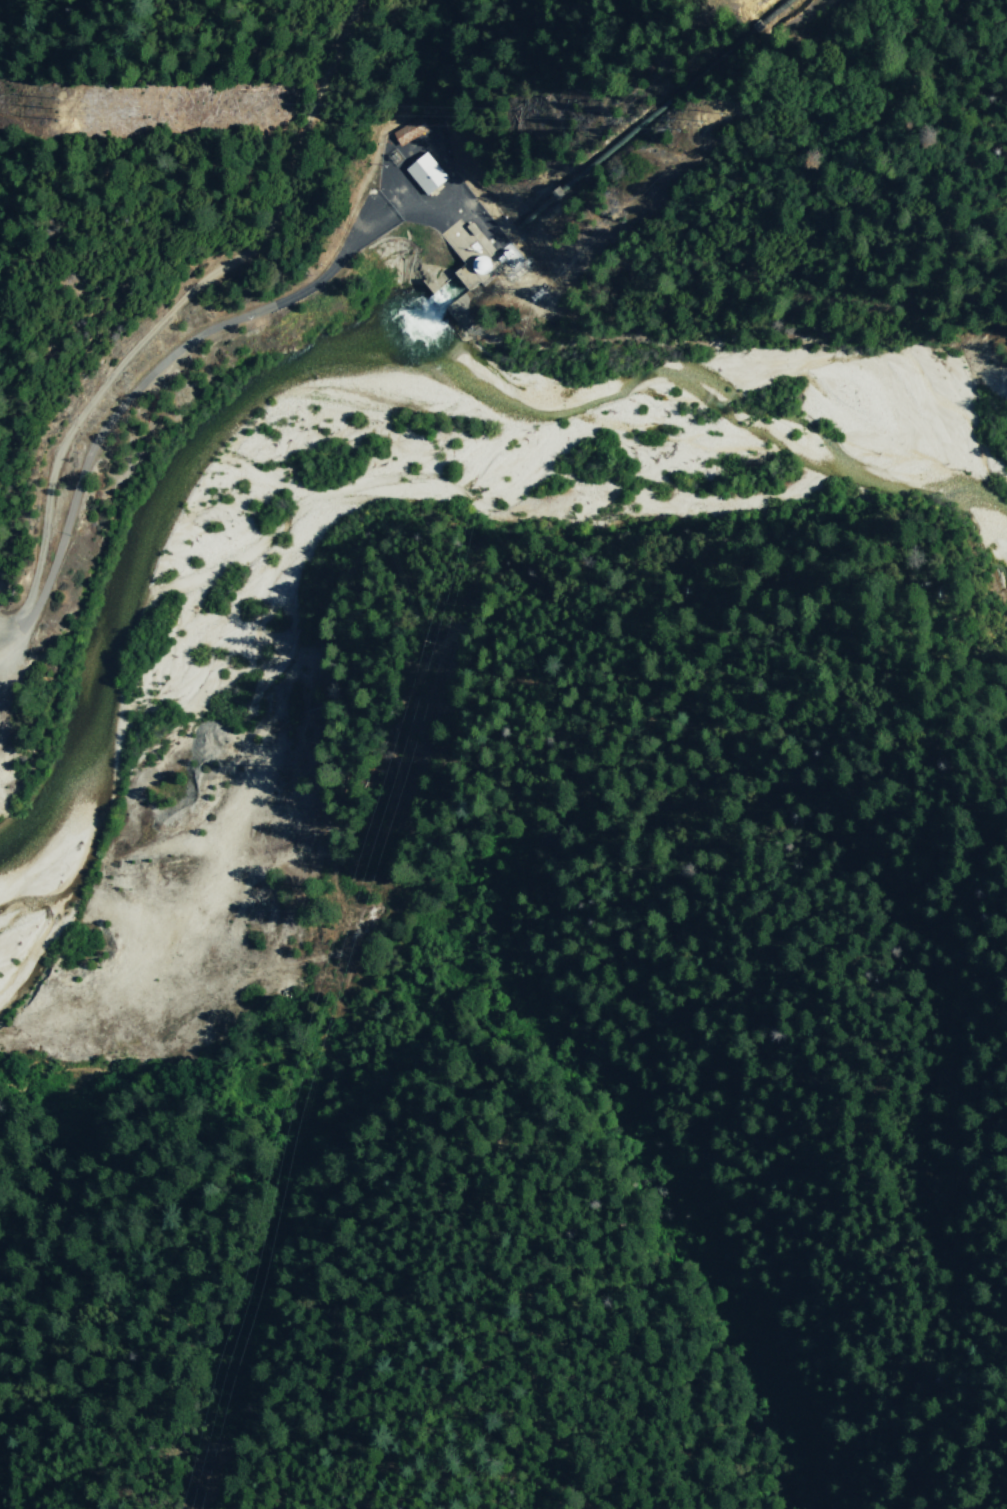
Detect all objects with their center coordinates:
power tower: (62, 112)
power tower: (704, 121)
building: (408, 131)
building: (425, 173)
building: (449, 191)
power tower: (508, 259)
building: (483, 266)
power tower: (542, 296)
road: (174, 311)
river: (357, 339)
power tower: (440, 642)
road: (690, 718)

